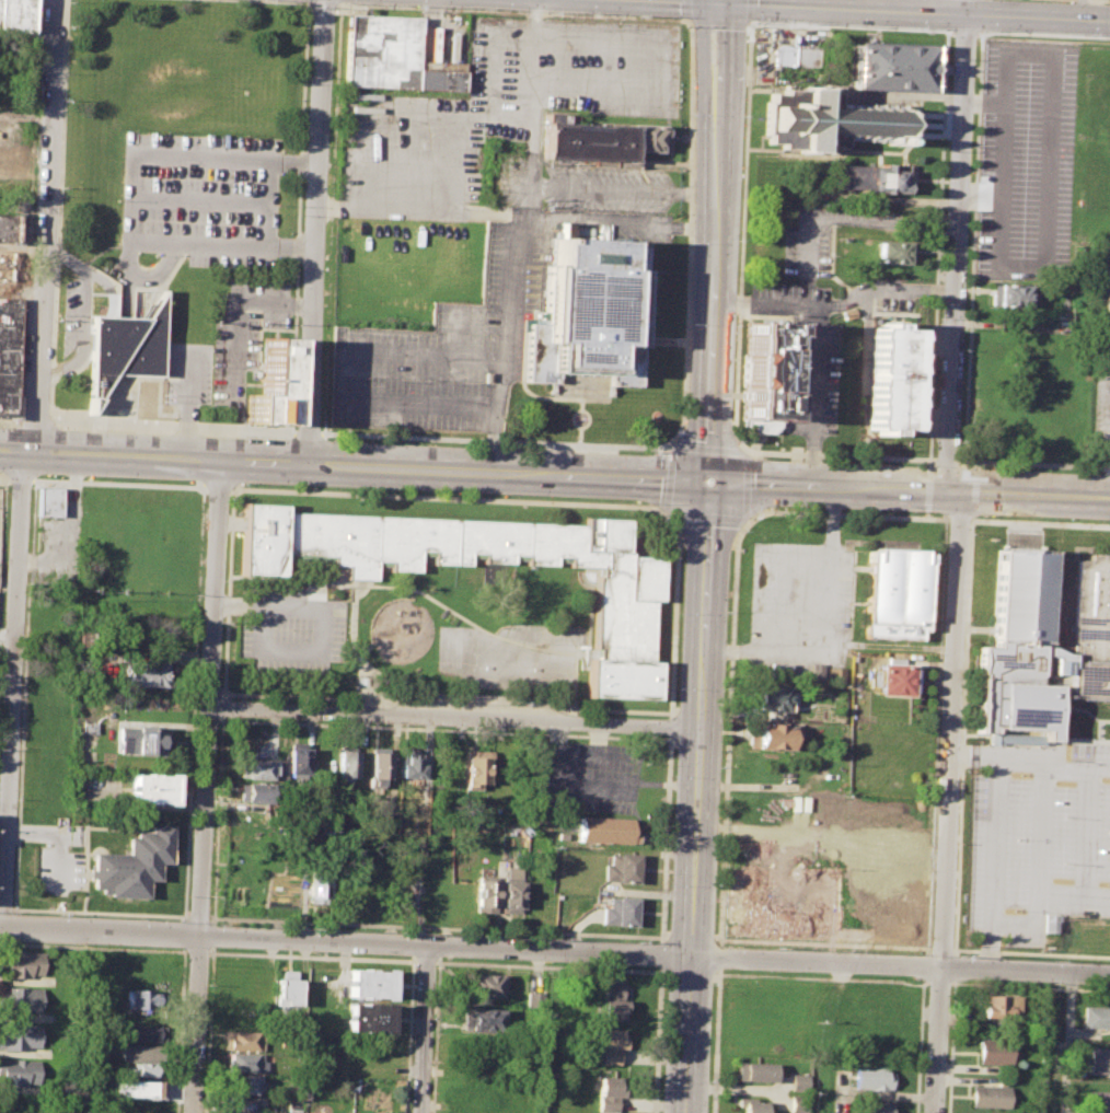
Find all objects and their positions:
street lamp: (69, 0)
road: (308, 0)
road: (340, 0)
road: (1108, 0)
road: (269, 1)
street lamp: (345, 2)
road: (716, 2)
road: (718, 2)
road: (323, 3)
traffic signals: (718, 4)
street lamp: (415, 5)
street lamp: (500, 9)
road: (684, 9)
road: (751, 10)
road: (1080, 10)
road: (863, 11)
street lamp: (585, 12)
street lamp: (310, 14)
road: (980, 14)
building: (15, 15)
street lamp: (670, 16)
road: (685, 19)
road: (690, 21)
street lamp: (755, 21)
road: (718, 22)
road: (751, 22)
street lamp: (855, 24)
street lamp: (685, 26)
street lamp: (914, 27)
road: (948, 30)
road: (962, 31)
road: (981, 31)
street lamp: (986, 31)
road: (1042, 35)
street lamp: (1084, 35)
street lamp: (975, 39)
building: (389, 55)
building: (805, 57)
building: (890, 65)
street lamp: (67, 72)
street lamp: (307, 82)
road: (982, 103)
street lamp: (692, 115)
street lamp: (743, 116)
building: (828, 119)
street lamp: (170, 132)
street lamp: (248, 134)
road: (1048, 138)
building: (597, 140)
road: (940, 144)
parking lot: (1025, 156)
building: (3, 158)
road: (232, 159)
building: (866, 178)
road: (623, 188)
street lamp: (62, 195)
parking lot: (205, 198)
street lamp: (120, 200)
parking lot: (494, 200)
road: (529, 200)
road: (204, 201)
road: (274, 204)
street lamp: (278, 205)
road: (27, 210)
road: (59, 212)
road: (517, 216)
road: (299, 217)
road: (332, 218)
road: (857, 218)
road: (45, 227)
building: (5, 228)
road: (690, 231)
road: (317, 232)
road: (742, 239)
street lamp: (739, 240)
parking lot: (805, 241)
road: (155, 242)
street lamp: (692, 242)
road: (957, 245)
road: (972, 246)
building: (890, 252)
street lamp: (159, 255)
road: (167, 264)
building: (1109, 264)
building: (3, 265)
street lamp: (230, 270)
street lamp: (94, 285)
street lamp: (140, 291)
building: (1008, 295)
road: (835, 304)
building: (1108, 304)
building: (588, 312)
road: (238, 313)
road: (81, 314)
building: (847, 314)
street lamp: (60, 321)
street lamp: (689, 323)
street lamp: (736, 325)
road: (454, 331)
parking lot: (243, 332)
road: (658, 340)
road: (683, 341)
building: (124, 345)
street lamp: (297, 348)
building: (8, 353)
parking lot: (806, 355)
building: (762, 370)
parking lot: (188, 373)
road: (579, 376)
street lamp: (365, 378)
road: (579, 379)
building: (887, 379)
street lamp: (426, 380)
road: (921, 381)
street lamp: (488, 382)
building: (267, 383)
road: (521, 387)
flagpole: (162, 391)
road: (812, 395)
flagpole: (162, 398)
road: (575, 398)
road: (581, 399)
road: (188, 404)
road: (408, 404)
street lamp: (54, 407)
road: (569, 418)
flagpole: (578, 418)
road: (9, 420)
road: (37, 422)
street lamp: (292, 425)
street lamp: (739, 426)
road: (175, 428)
street lamp: (95, 429)
road: (578, 432)
street lamp: (674, 432)
road: (307, 434)
street lamp: (244, 436)
street lamp: (359, 440)
road: (578, 442)
road: (669, 444)
street lamp: (505, 447)
street lamp: (654, 451)
road: (839, 455)
street lamp: (767, 457)
road: (932, 460)
road: (945, 460)
road: (966, 461)
street lamp: (913, 464)
road: (1039, 464)
road: (355, 466)
street lamp: (990, 466)
street lamp: (93, 477)
road: (5, 478)
road: (19, 478)
road: (33, 480)
traffic signals: (710, 482)
street lamp: (243, 484)
street lamp: (31, 487)
road: (219, 487)
road: (927, 487)
street lamp: (358, 488)
road: (910, 489)
road: (973, 491)
street lamp: (504, 494)
parking lot: (0, 497)
street lamp: (228, 497)
road: (449, 497)
building: (47, 500)
street lamp: (646, 502)
road: (662, 511)
street lamp: (912, 511)
road: (835, 513)
street lamp: (988, 515)
road: (936, 518)
road: (971, 518)
road: (742, 519)
street lamp: (752, 519)
street lamp: (670, 520)
road: (959, 520)
road: (1040, 522)
street lamp: (745, 532)
road: (2, 533)
road: (707, 558)
road: (823, 563)
street lamp: (224, 580)
road: (349, 581)
street lamp: (26, 582)
building: (624, 591)
building: (895, 593)
parking lot: (799, 603)
road: (28, 610)
street lamp: (728, 612)
street lamp: (680, 613)
parking lot: (287, 630)
road: (320, 630)
road: (763, 639)
building: (1039, 647)
building: (814, 672)
building: (148, 674)
building: (835, 675)
building: (895, 680)
street lamp: (220, 684)
street lamp: (678, 687)
street lamp: (725, 688)
road: (11, 692)
street lamp: (22, 694)
building: (773, 697)
road: (194, 702)
road: (447, 703)
road: (223, 705)
street lamp: (227, 717)
road: (454, 719)
road: (670, 726)
road: (446, 729)
road: (950, 730)
road: (936, 733)
road: (961, 734)
road: (556, 735)
building: (773, 737)
building: (140, 740)
road: (602, 750)
building: (298, 760)
building: (346, 764)
building: (378, 765)
building: (409, 766)
building: (476, 766)
street lamp: (721, 767)
road: (1076, 767)
building: (256, 769)
street lamp: (674, 776)
parking lot: (586, 779)
road: (206, 787)
road: (543, 787)
building: (151, 788)
building: (255, 793)
street lamp: (215, 797)
street lamp: (18, 800)
road: (219, 819)
building: (606, 830)
road: (1087, 831)
road: (44, 833)
road: (725, 834)
parking lot: (1037, 837)
road: (664, 838)
road: (993, 838)
road: (1039, 842)
building: (132, 863)
road: (59, 865)
building: (620, 869)
parking lot: (59, 870)
street lamp: (670, 885)
street lamp: (716, 885)
building: (316, 886)
building: (510, 889)
building: (485, 892)
road: (1073, 893)
street lamp: (210, 897)
street lamp: (13, 906)
road: (5, 908)
building: (618, 911)
building: (776, 911)
road: (100, 913)
street lamp: (140, 917)
road: (197, 917)
building: (1051, 923)
street lamp: (310, 926)
road: (575, 926)
road: (0, 928)
road: (435, 928)
road: (663, 938)
road: (691, 938)
road: (721, 939)
road: (346, 941)
road: (941, 949)
road: (1031, 953)
road: (661, 954)
road: (720, 957)
building: (22, 963)
road: (900, 966)
road: (823, 978)
road: (936, 981)
building: (369, 983)
street lamp: (666, 984)
building: (485, 985)
street lamp: (713, 985)
street lamp: (207, 986)
building: (287, 987)
road: (1028, 987)
building: (20, 998)
building: (141, 1000)
building: (614, 1001)
building: (534, 1002)
building: (997, 1006)
building: (367, 1016)
building: (484, 1017)
building: (1096, 1017)
road: (425, 1029)
building: (143, 1033)
building: (19, 1034)
road: (658, 1040)
road: (716, 1040)
building: (244, 1041)
road: (937, 1041)
road: (1067, 1043)
building: (612, 1046)
road: (918, 1048)
road: (949, 1048)
building: (994, 1051)
building: (139, 1052)
building: (1099, 1060)
building: (246, 1064)
building: (141, 1069)
building: (18, 1071)
building: (753, 1071)
building: (871, 1077)
street lamp: (709, 1081)
building: (798, 1081)
street lamp: (661, 1083)
building: (244, 1085)
building: (136, 1089)
building: (609, 1092)
building: (988, 1095)
building: (1099, 1101)
building: (797, 1103)
building: (243, 1104)
building: (749, 1104)
building: (875, 1106)

